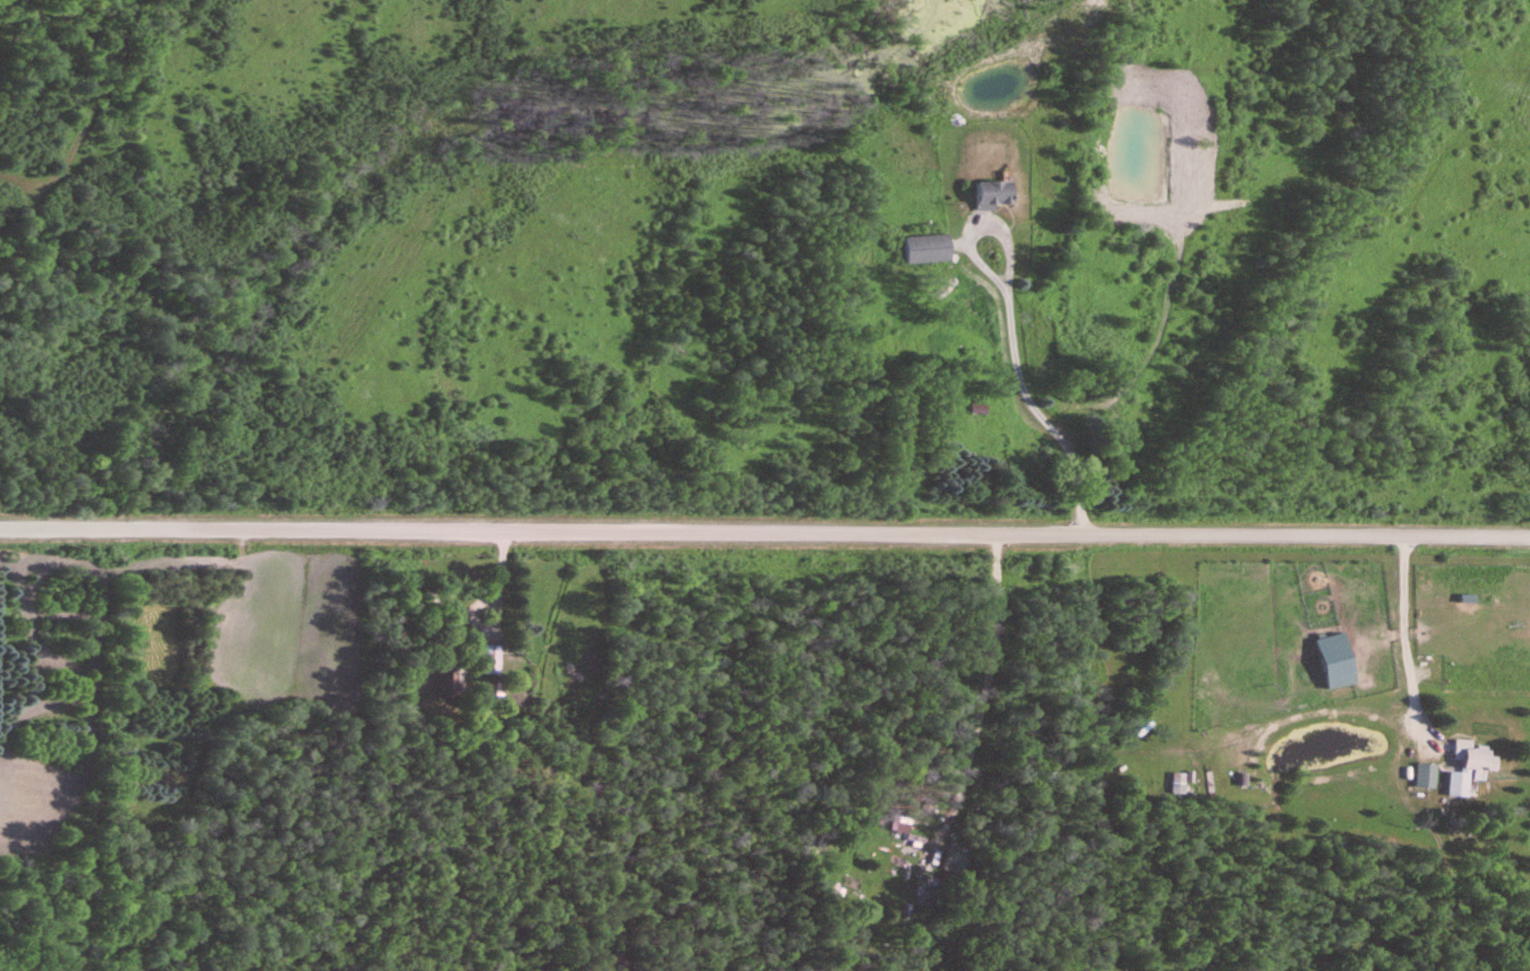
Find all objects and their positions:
building: (993, 194)
building: (927, 248)
road: (1007, 334)
building: (1065, 403)
road: (764, 535)
road: (1406, 645)
building: (519, 646)
building: (491, 659)
building: (1336, 659)
building: (444, 685)
building: (1189, 712)
building: (1468, 767)
building: (1425, 774)
building: (1177, 783)

